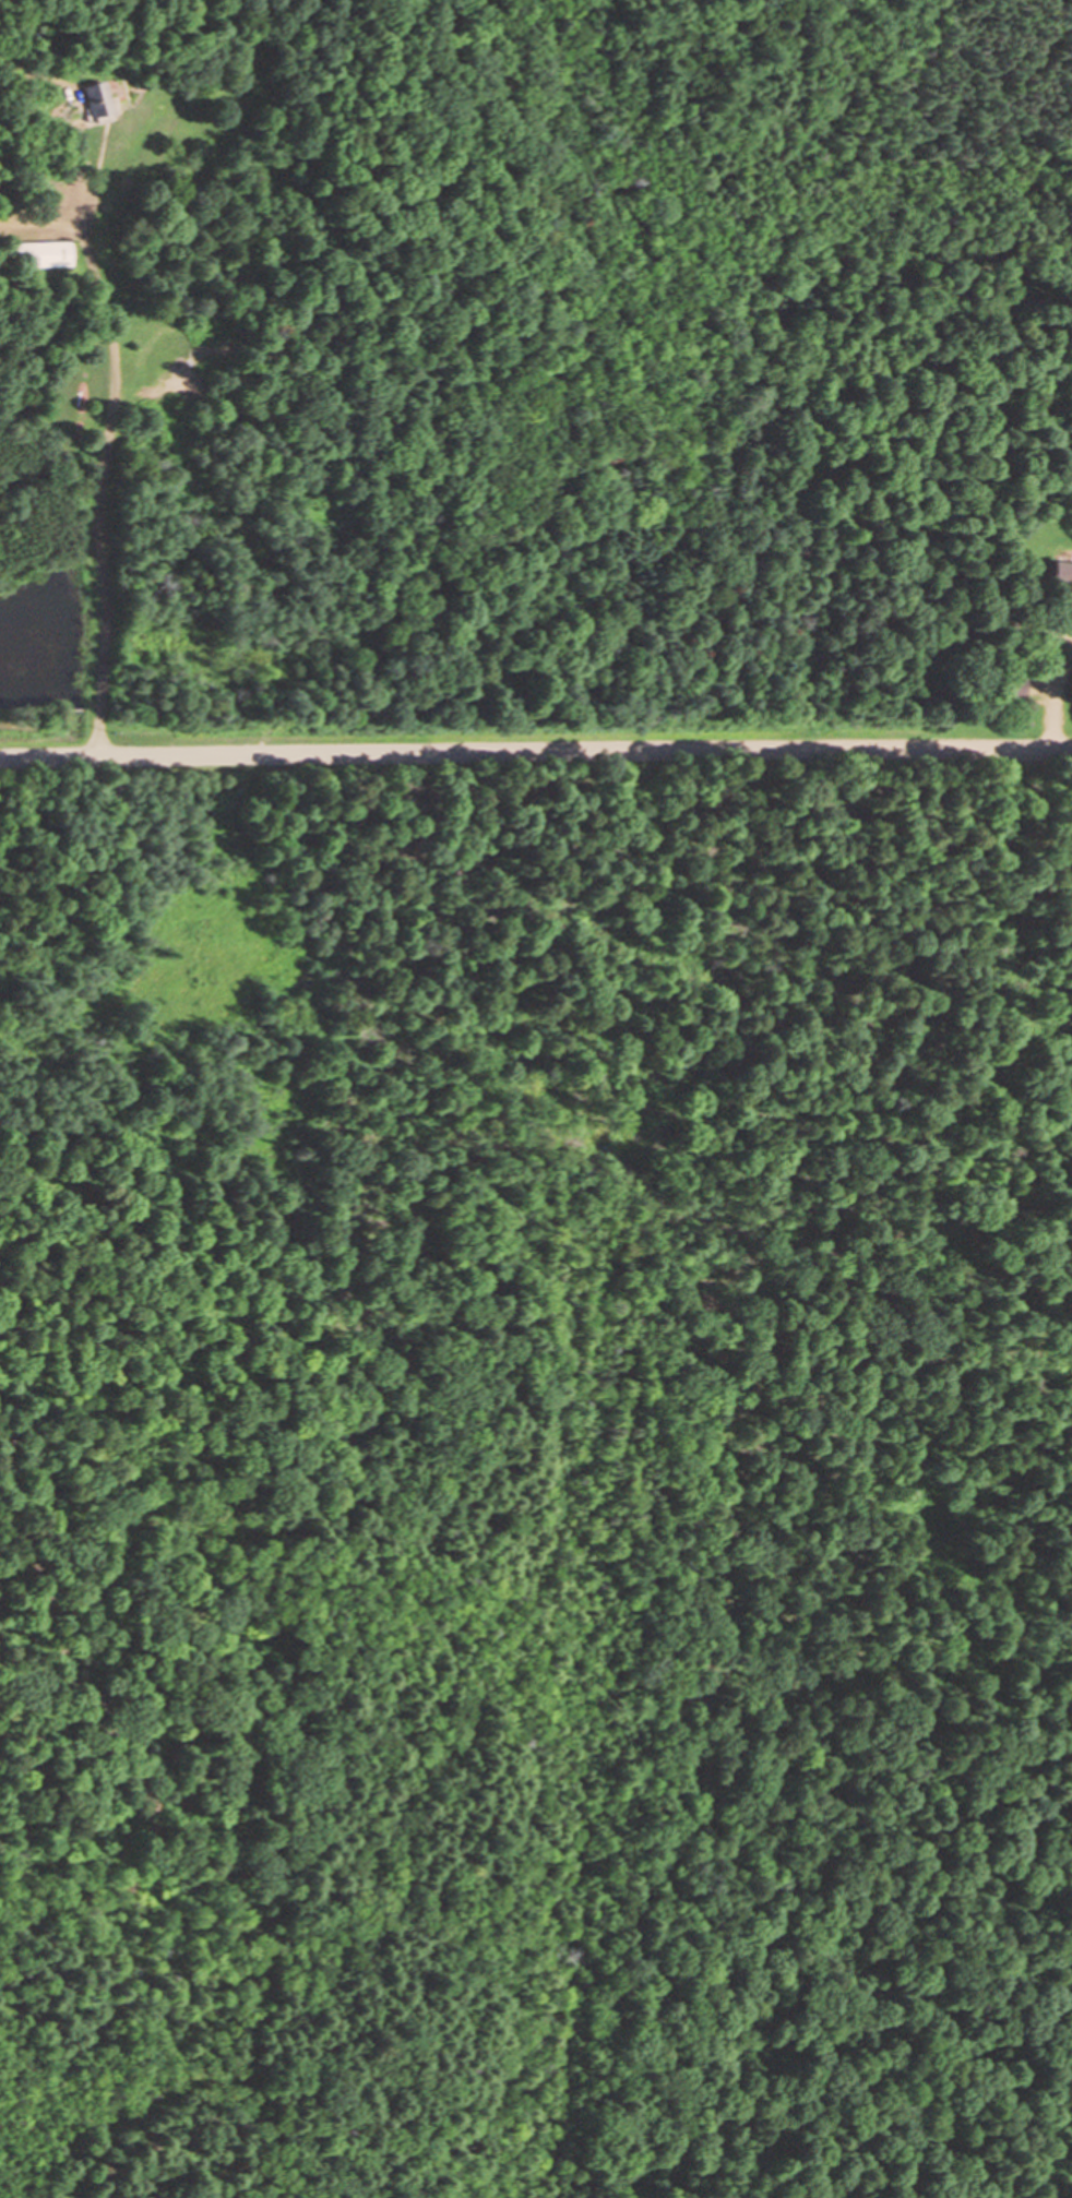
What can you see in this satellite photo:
building: (99, 99)
building: (44, 256)
building: (1062, 574)
building: (1017, 686)
road: (536, 752)

